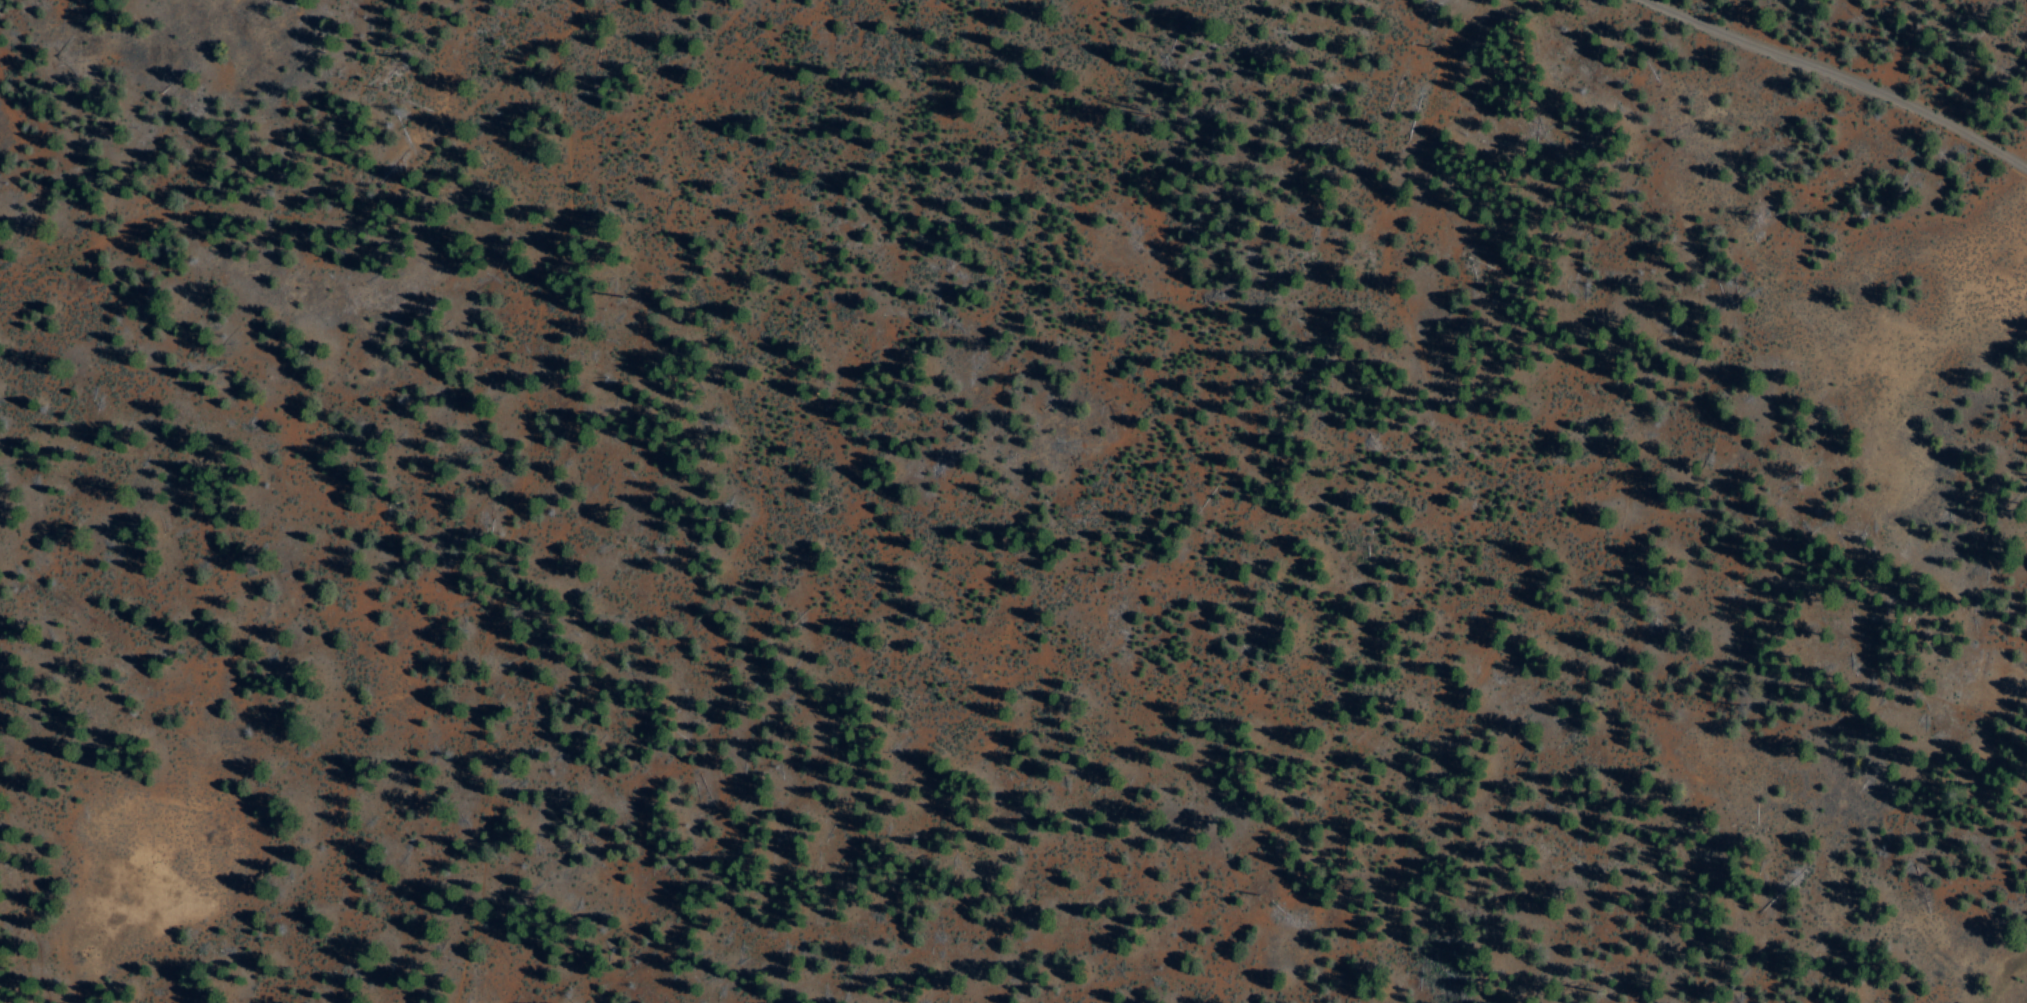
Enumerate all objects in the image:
road: (1838, 77)

